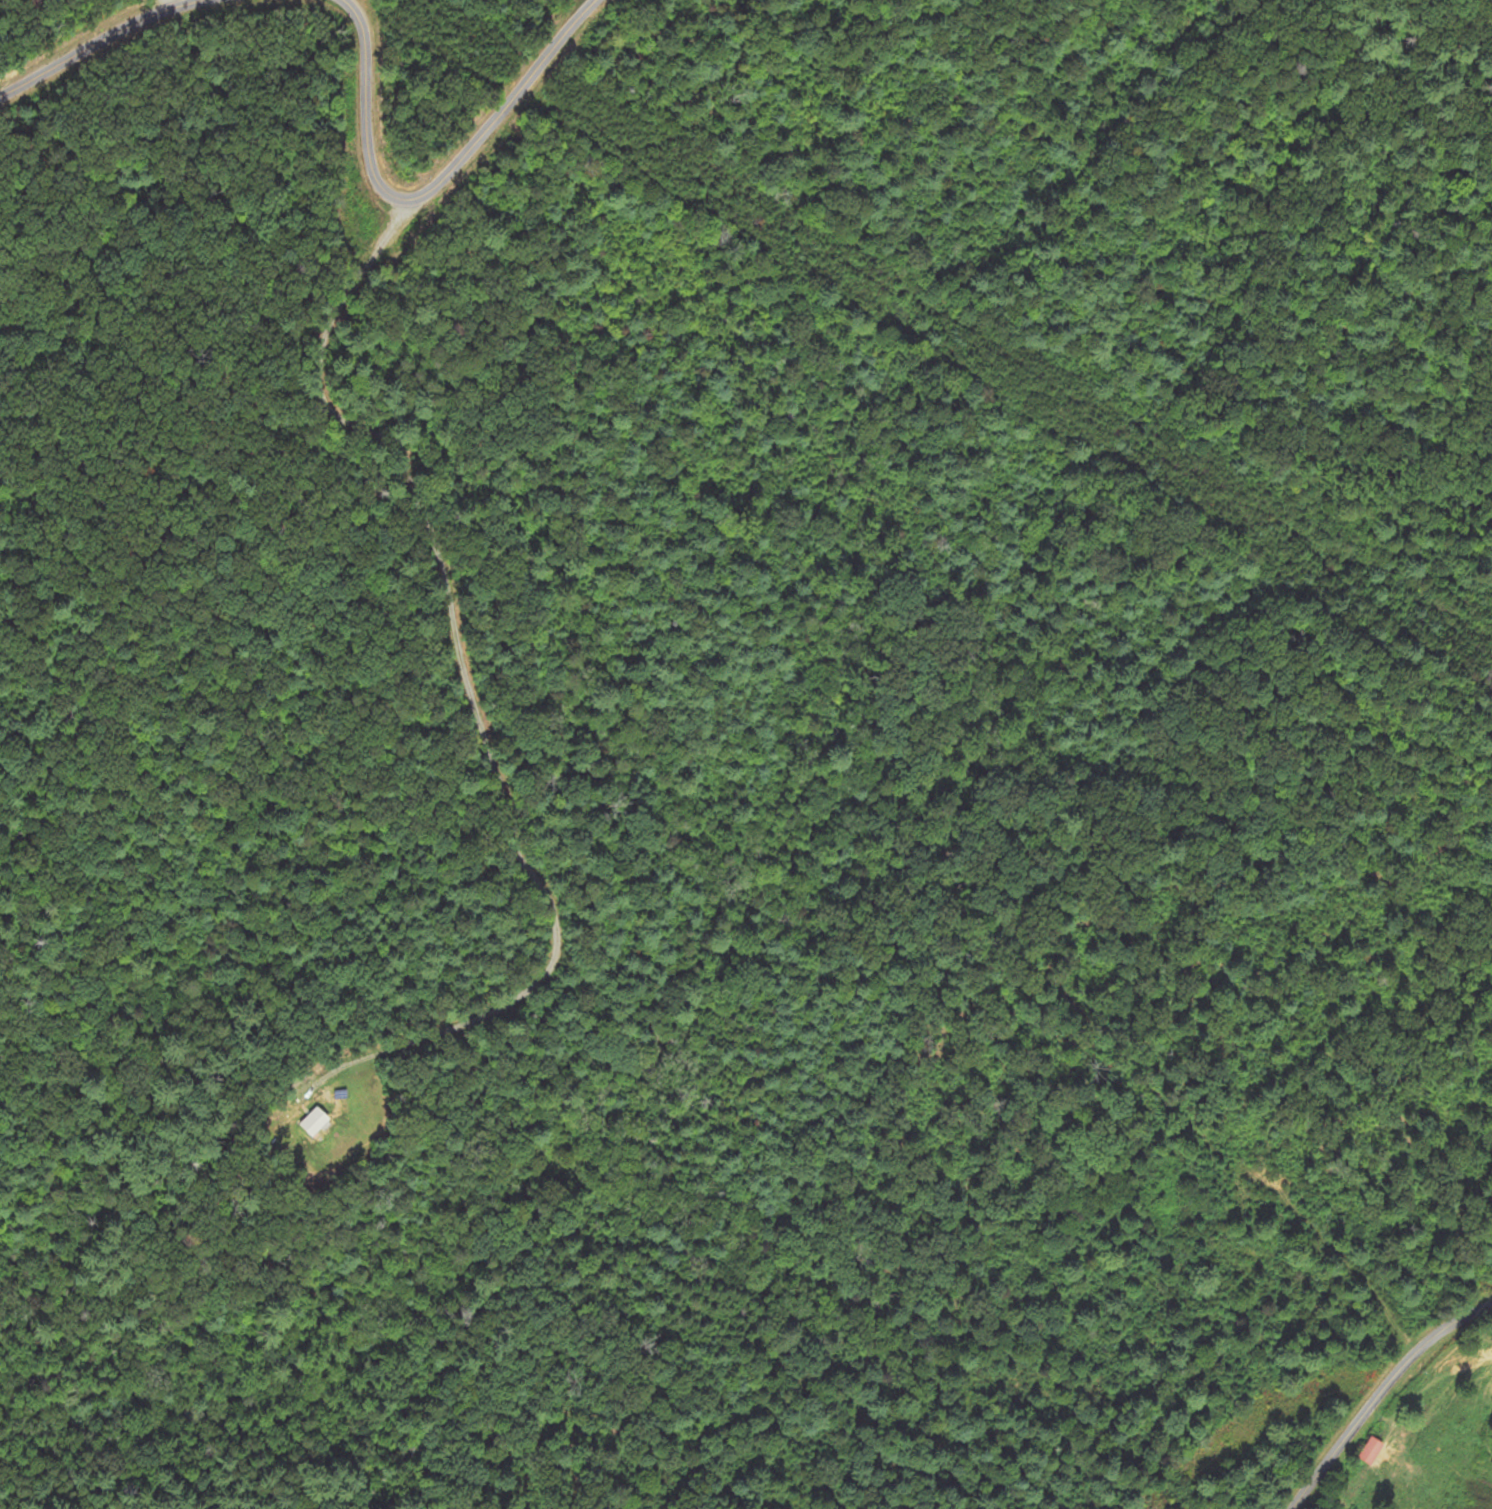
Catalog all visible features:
road: (88, 37)
road: (425, 173)
road: (462, 678)
building: (314, 1122)
road: (1373, 1386)
building: (1372, 1451)

